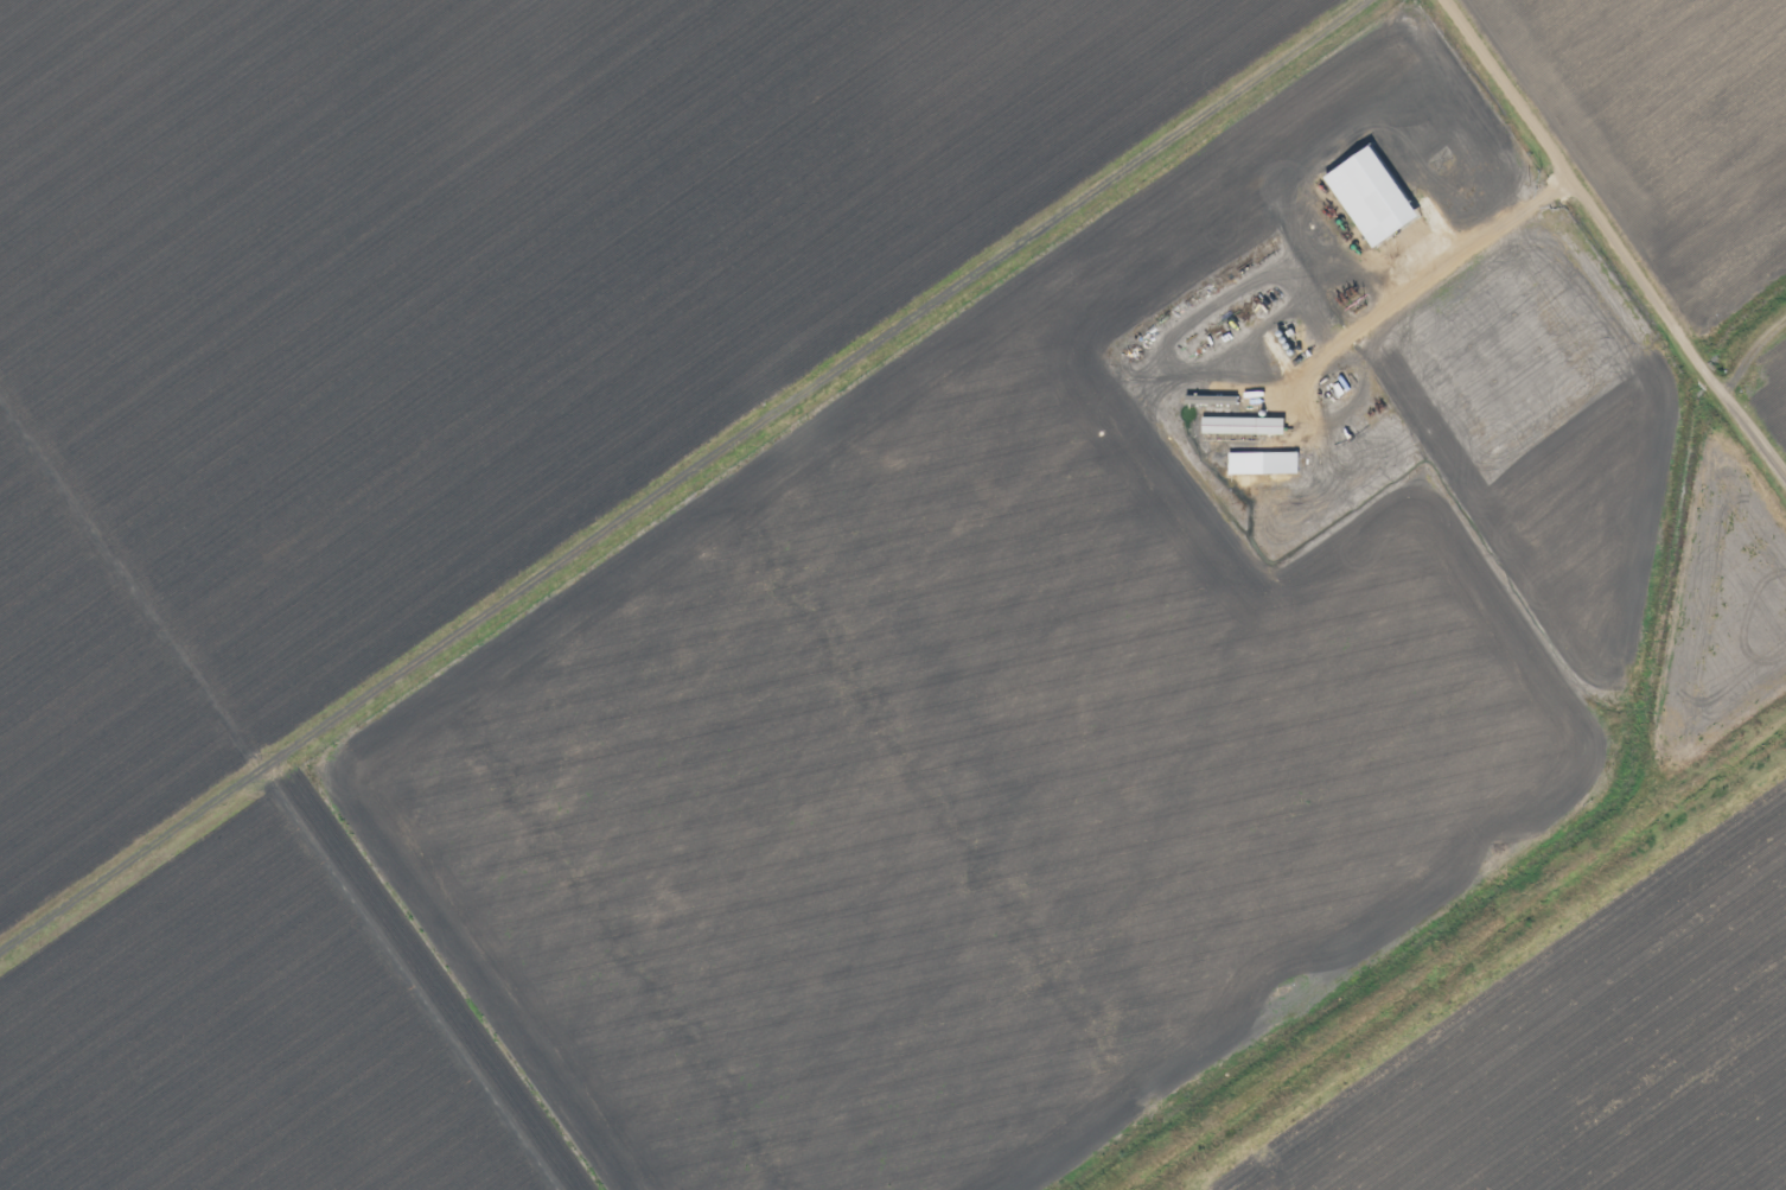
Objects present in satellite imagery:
building: (1369, 198)
road: (1616, 237)
road: (1749, 352)

